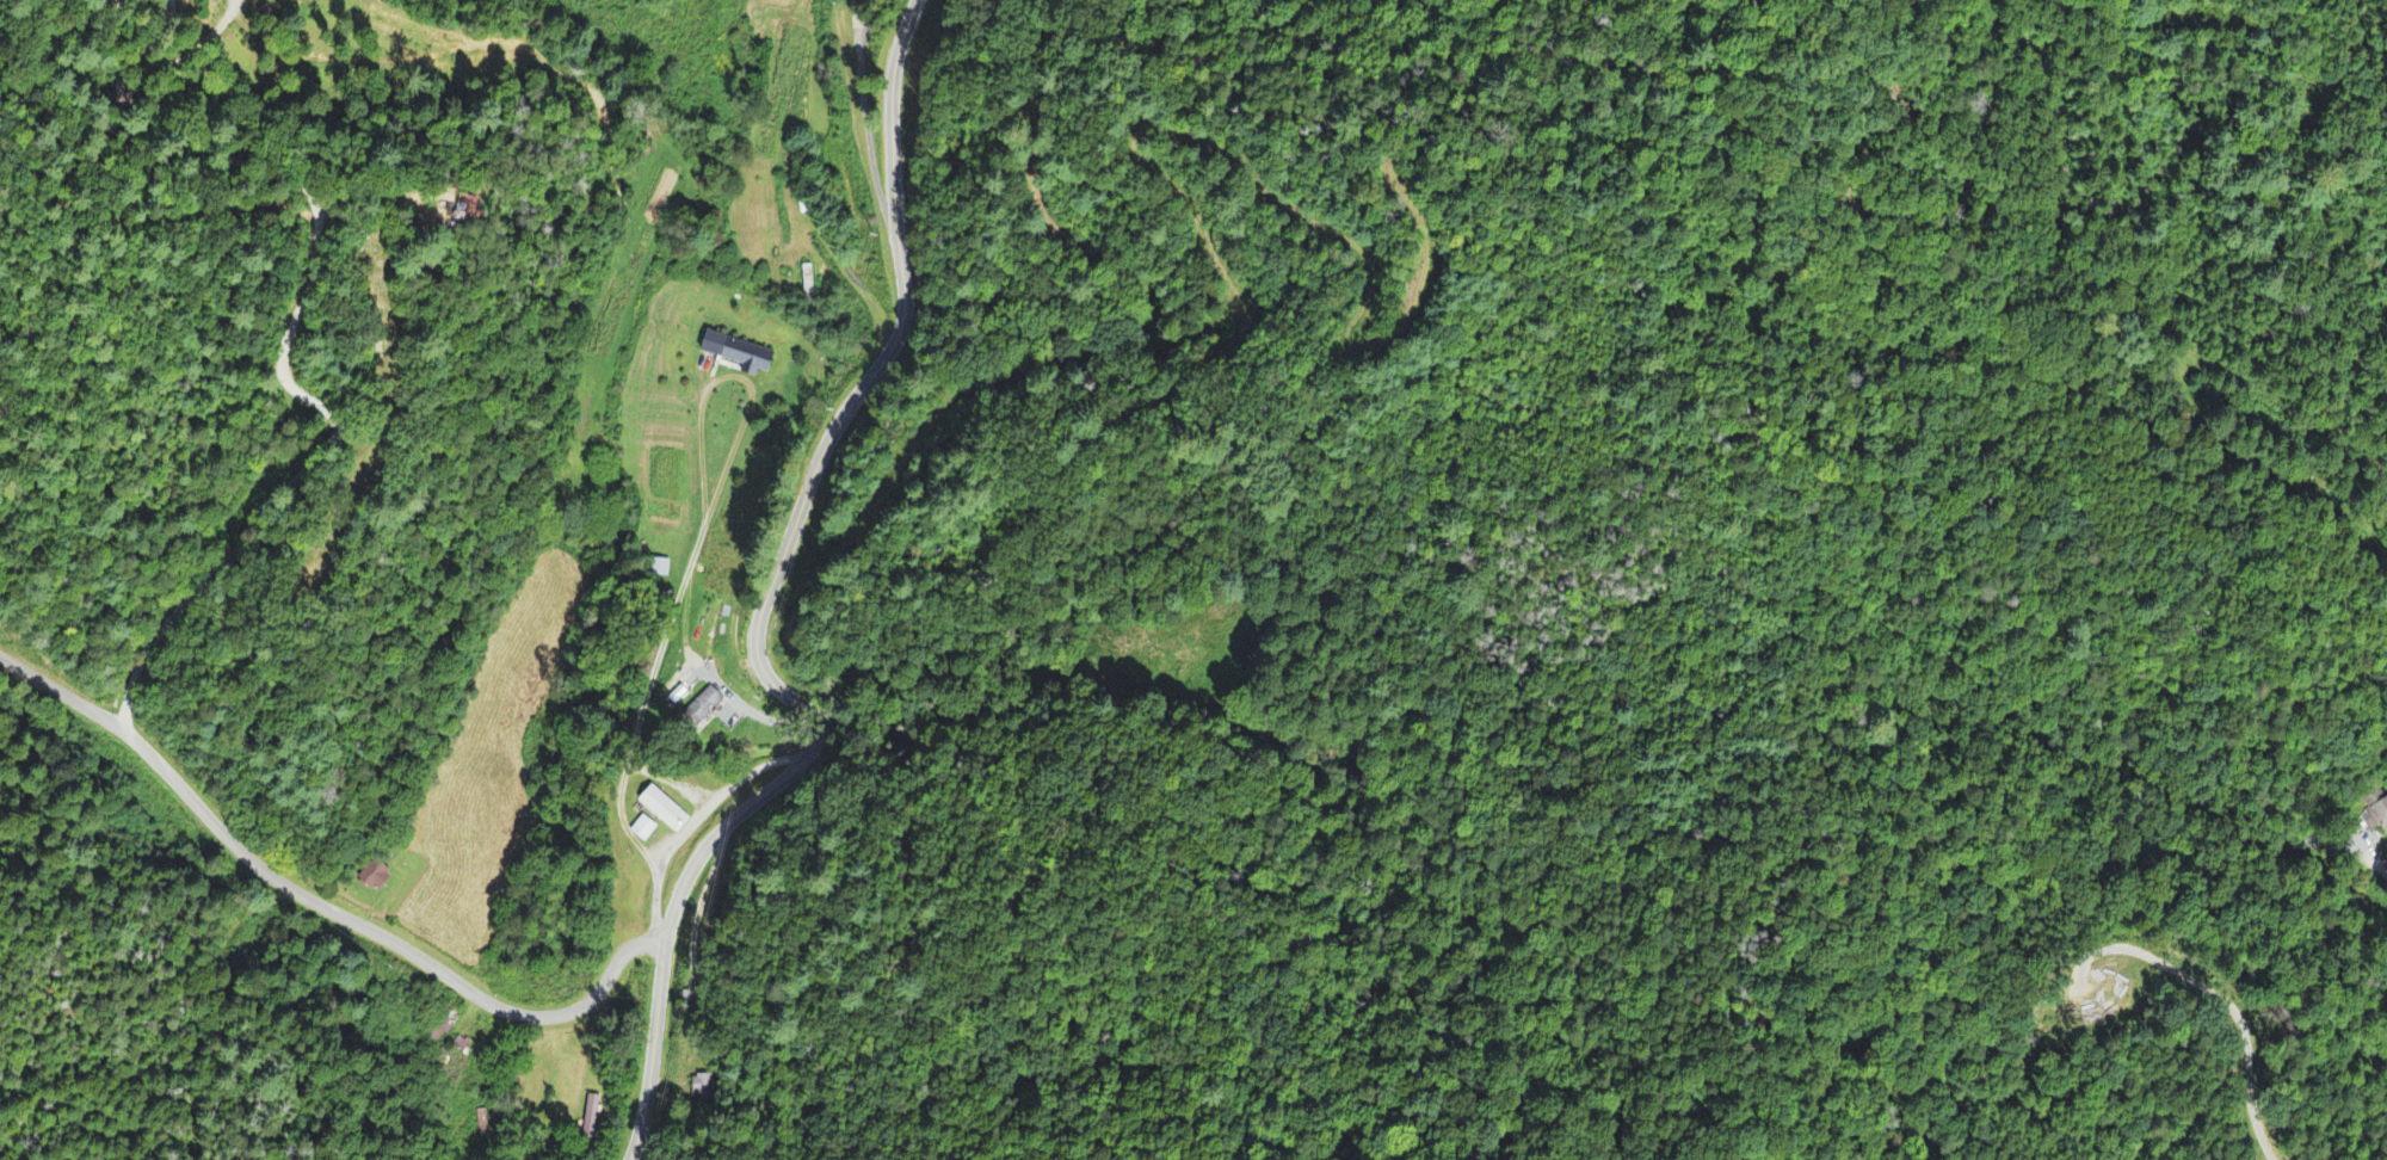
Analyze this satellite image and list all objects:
building: (740, 356)
building: (660, 570)
road: (804, 591)
building: (705, 709)
building: (665, 812)
building: (2380, 815)
building: (644, 831)
building: (376, 878)
road: (315, 902)
building: (593, 1118)

